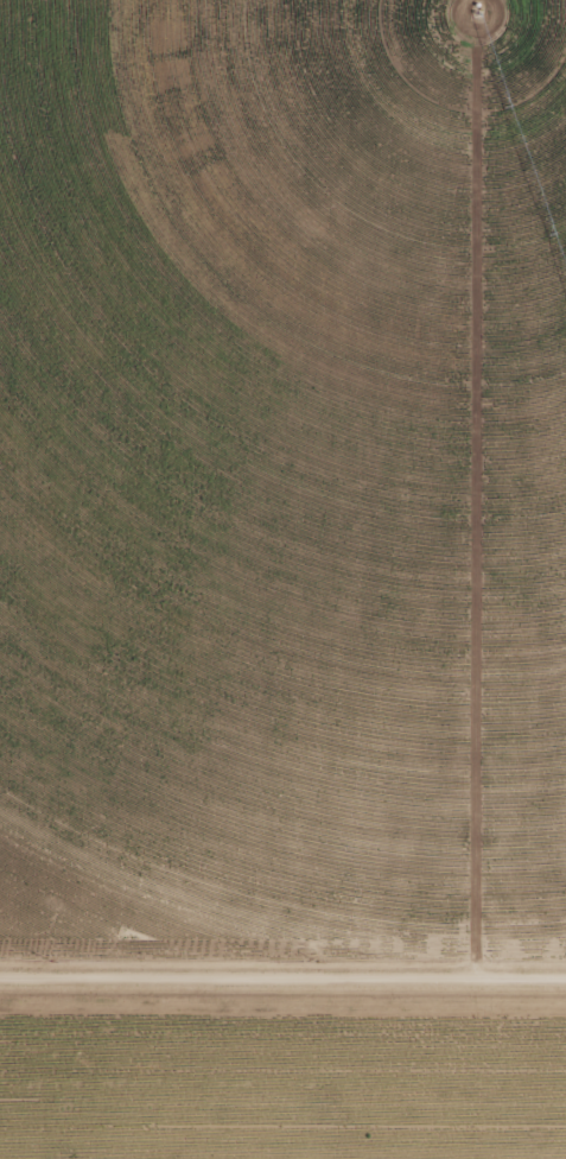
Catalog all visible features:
road: (282, 950)

